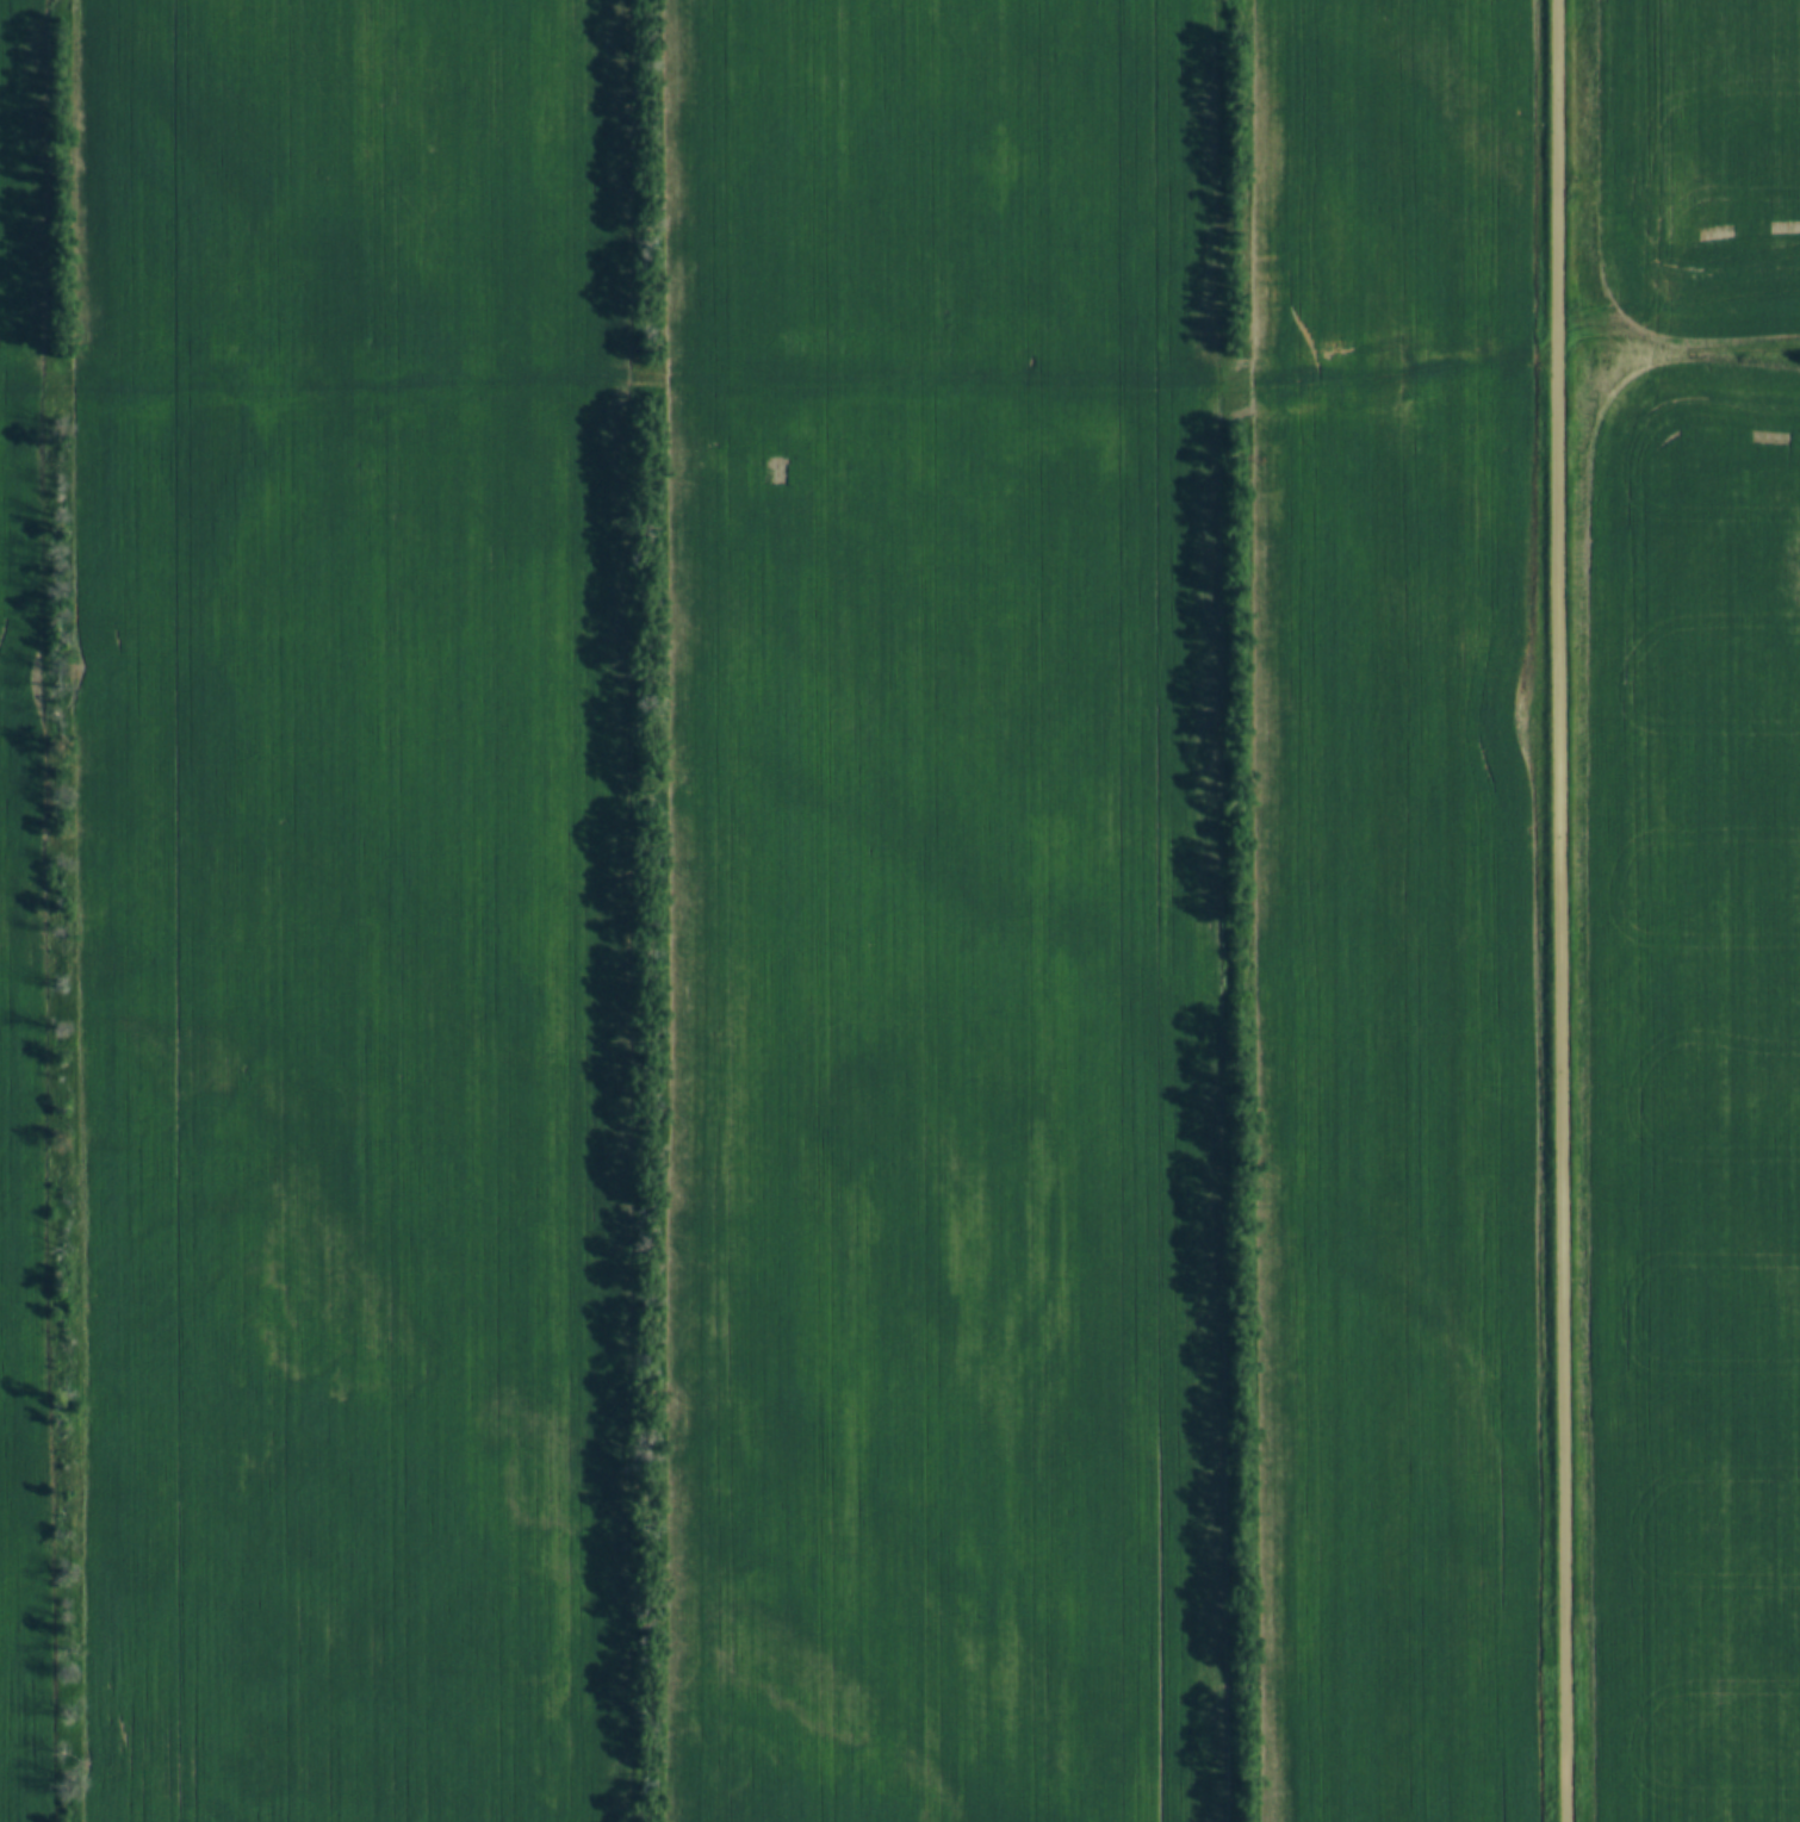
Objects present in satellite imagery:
road: (1558, 910)

